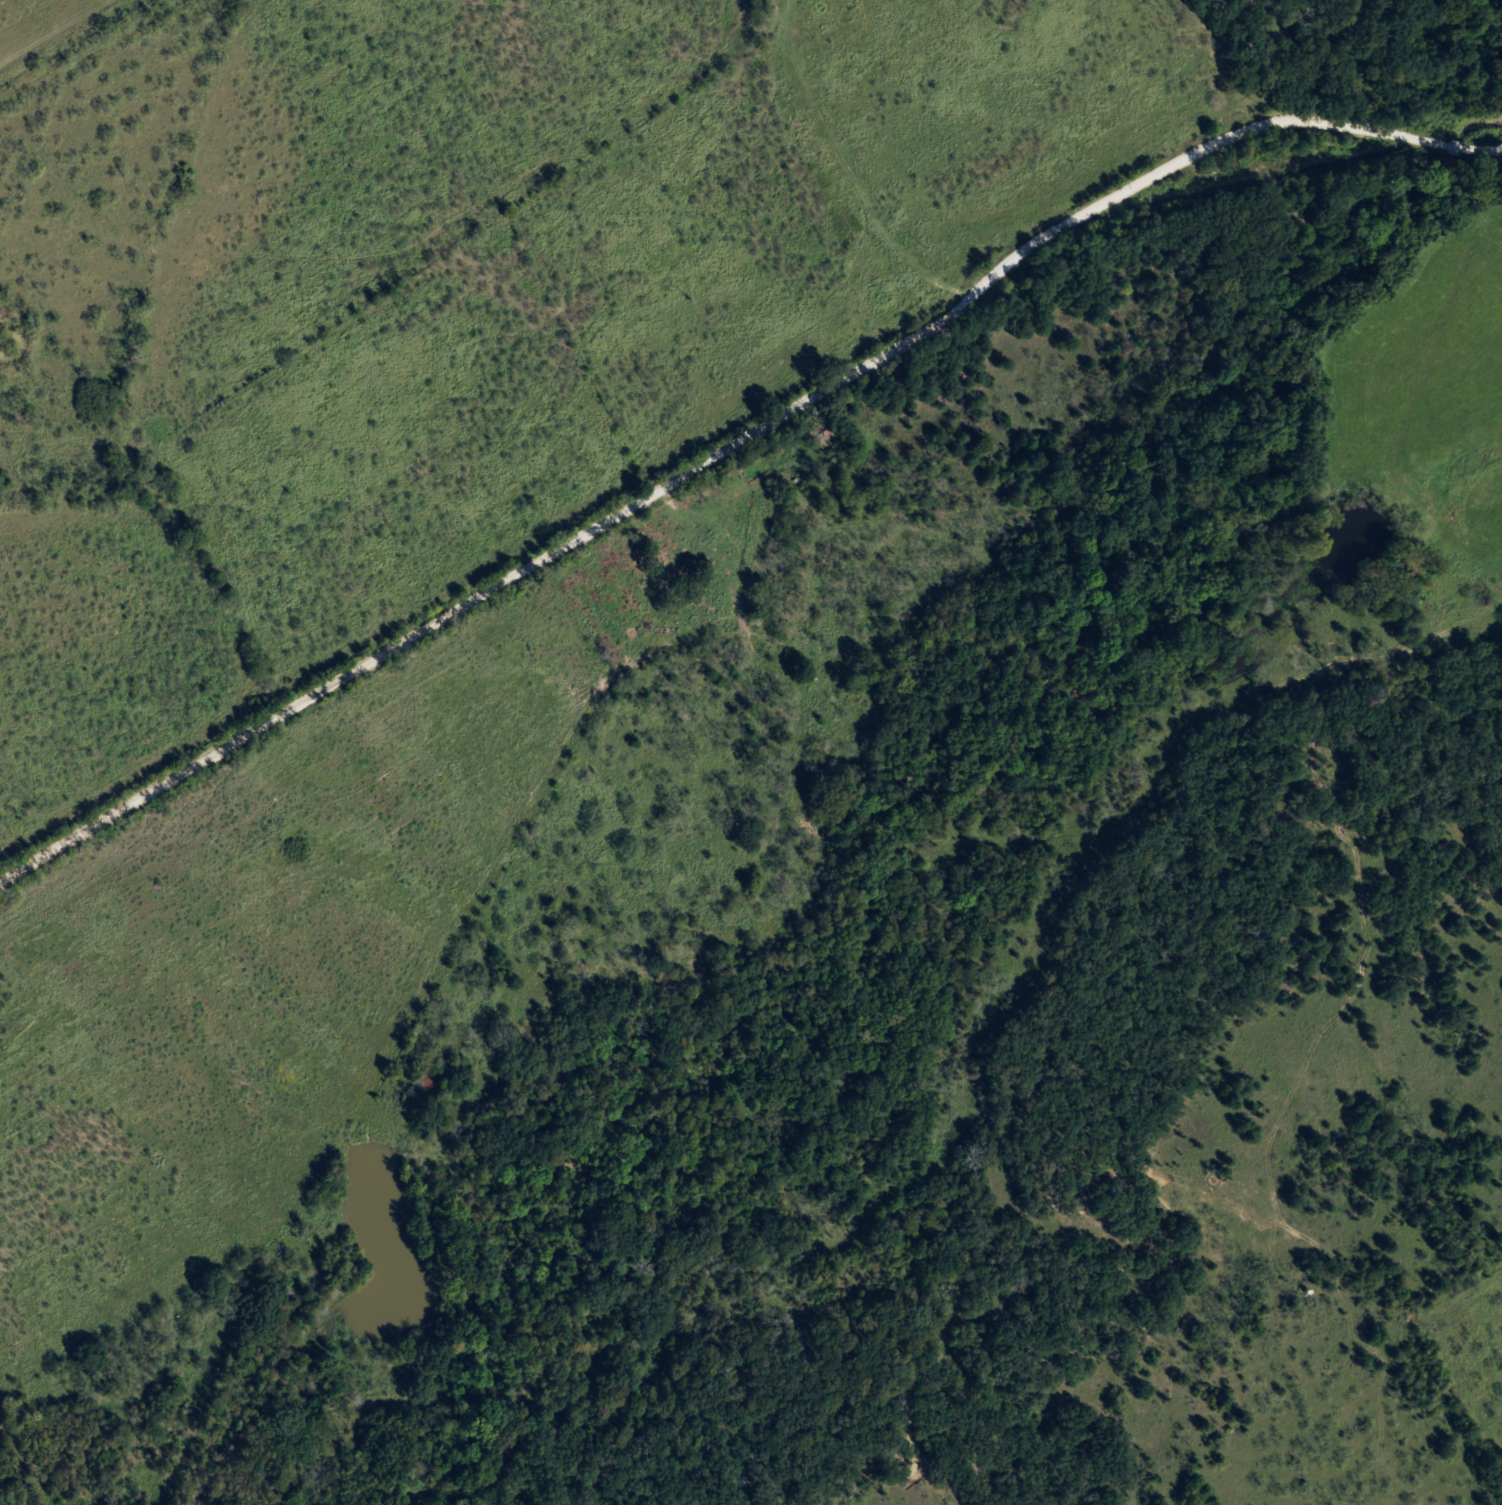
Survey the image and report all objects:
road: (740, 446)

